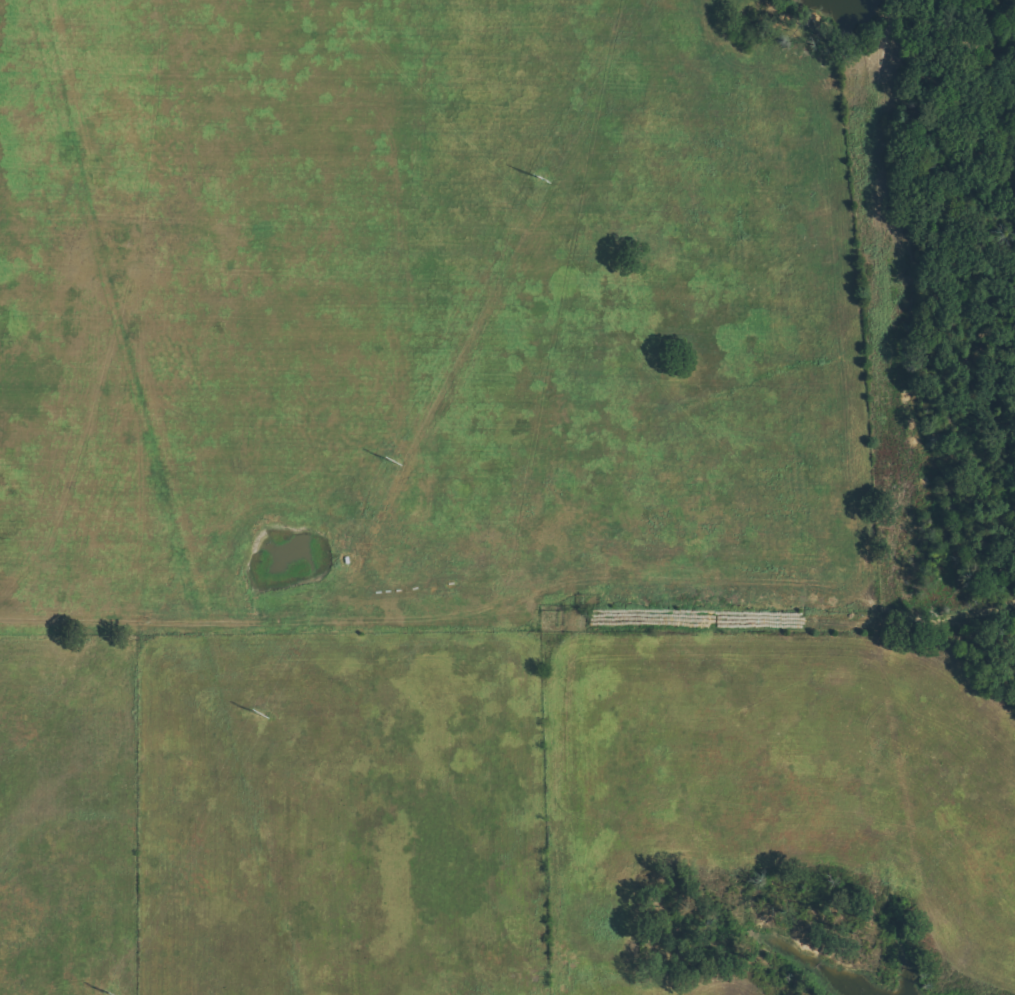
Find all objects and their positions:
power tower: (539, 176)
power tower: (387, 460)
power tower: (244, 715)
power tower: (95, 994)

